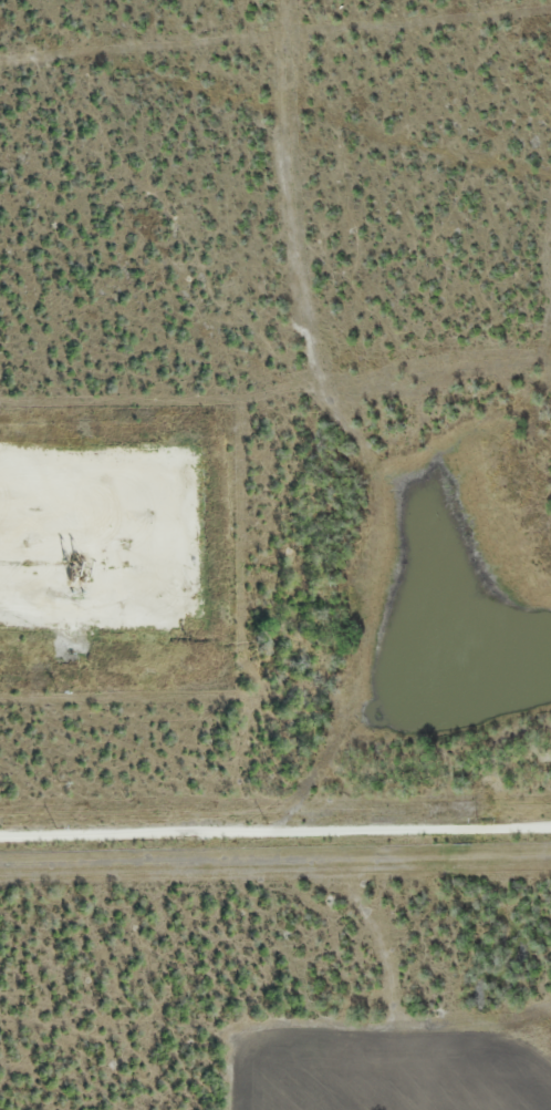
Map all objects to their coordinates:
road: (275, 825)

